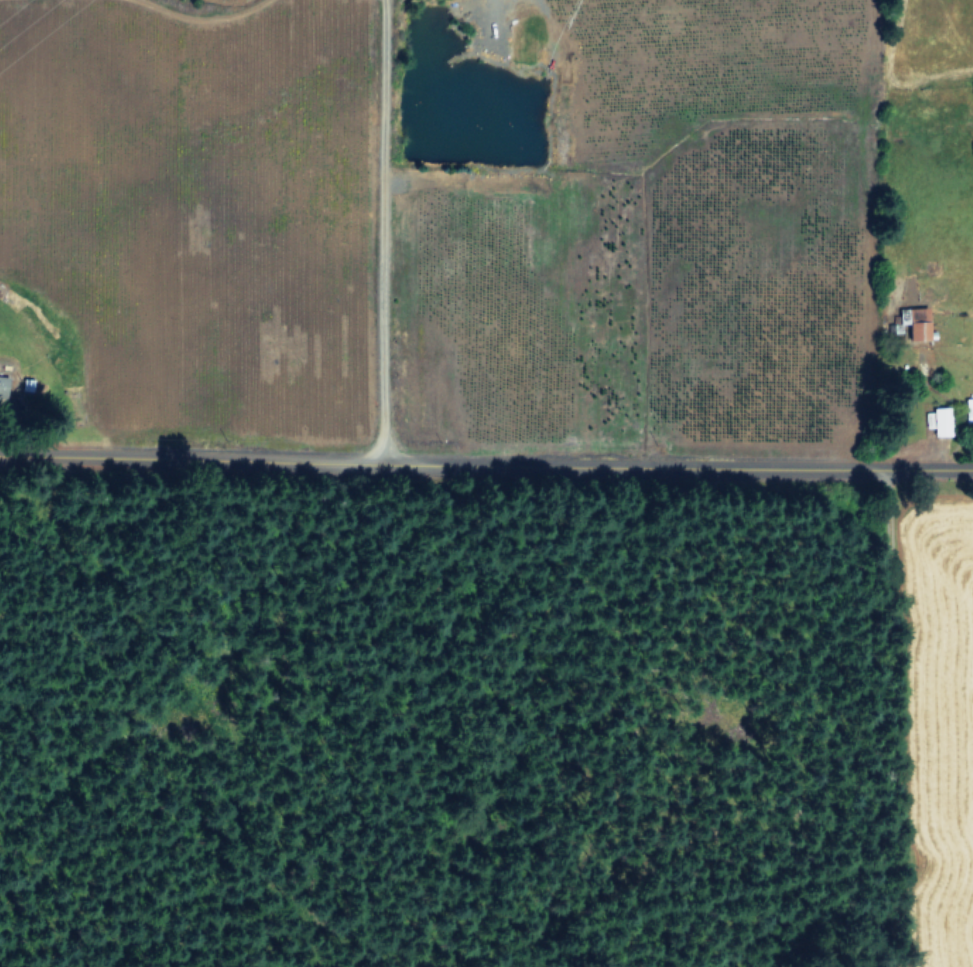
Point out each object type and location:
crop: (518, 282)
building: (917, 324)
road: (2, 362)
building: (2, 385)
building: (968, 409)
road: (486, 457)
road: (887, 714)

